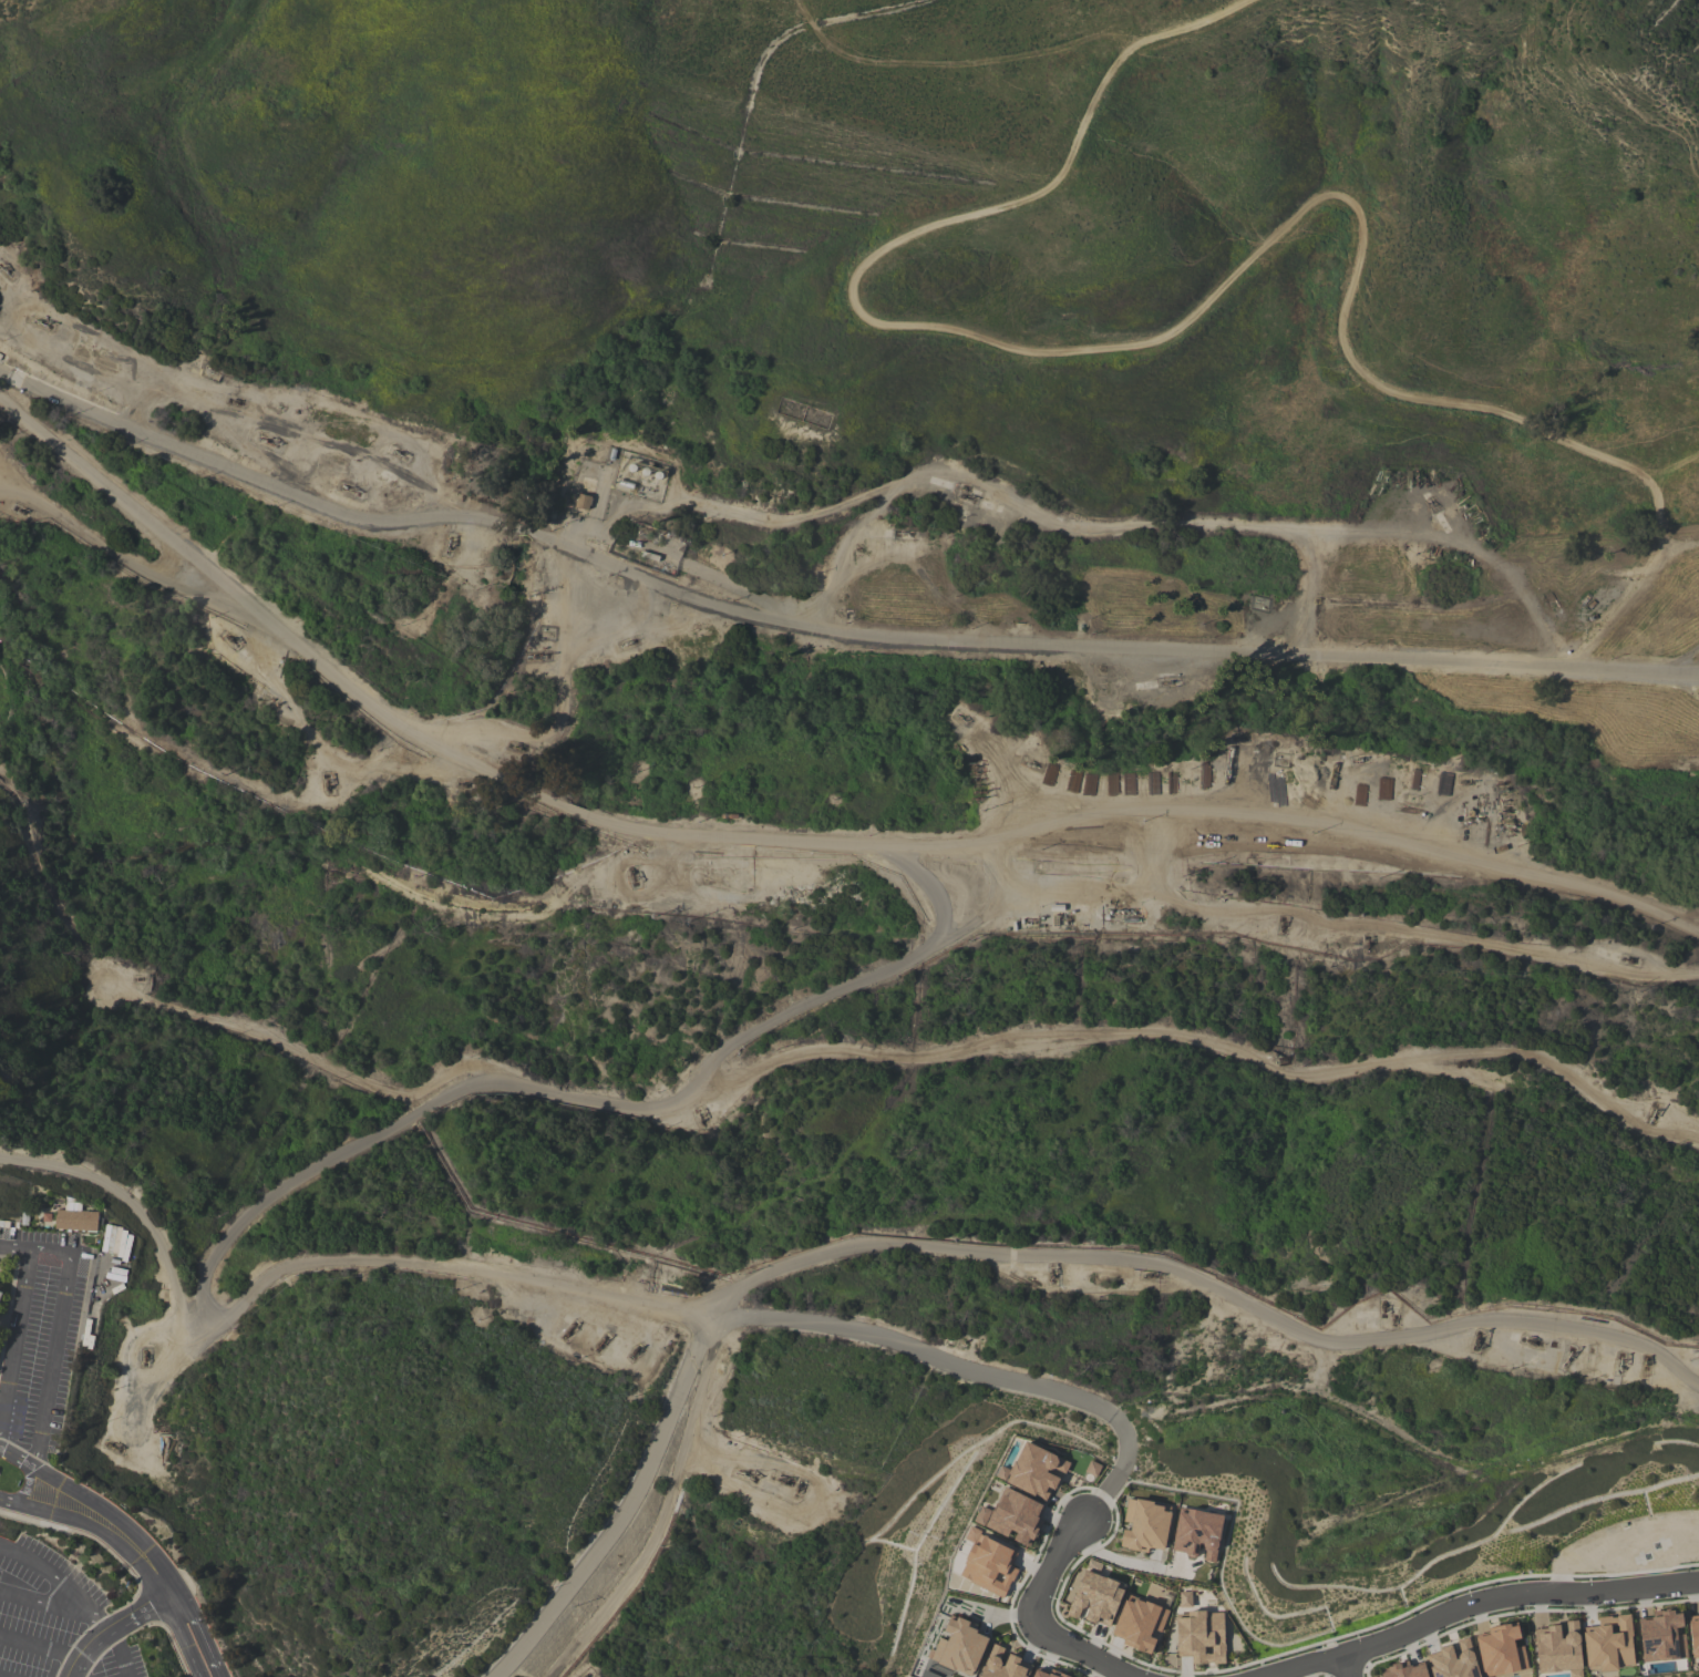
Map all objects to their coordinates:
petroleum well: (2, 266)
petroleum well: (42, 315)
road: (1194, 322)
petroleum well: (236, 399)
petroleum well: (268, 438)
petroleum well: (397, 451)
petroleum well: (350, 488)
petroleum well: (965, 496)
petroleum well: (1432, 501)
building: (583, 502)
road: (1020, 504)
road: (735, 513)
road: (1409, 535)
petroleum well: (446, 543)
road: (1675, 548)
road: (144, 574)
road: (269, 628)
road: (824, 630)
petroleum well: (231, 638)
petroleum well: (629, 642)
petroleum well: (540, 654)
road: (1683, 659)
petroleum well: (1168, 682)
road: (560, 713)
petroleum well: (961, 718)
petroleum well: (1359, 758)
petroleum well: (1032, 762)
petroleum well: (1465, 780)
petroleum well: (463, 783)
petroleum well: (329, 784)
road: (1147, 812)
road: (576, 817)
petroleum well: (631, 872)
road: (937, 891)
petroleum well: (1281, 926)
petroleum well: (1367, 940)
petroleum well: (1628, 958)
road: (1208, 1046)
road: (604, 1097)
petroleum well: (1652, 1111)
road: (132, 1204)
building: (78, 1217)
road: (7, 1244)
road: (21, 1246)
road: (85, 1266)
petroleum well: (1051, 1274)
petroleum well: (1153, 1275)
road: (101, 1278)
road: (1203, 1282)
road: (65, 1283)
building: (0, 1293)
road: (584, 1297)
petroleum well: (1382, 1303)
petroleum well: (569, 1327)
parking lot: (43, 1334)
petroleum well: (1475, 1337)
petroleum well: (1530, 1340)
petroleum well: (600, 1341)
road: (14, 1345)
petroleum well: (634, 1349)
petroleum well: (1566, 1355)
petroleum well: (143, 1357)
petroleum well: (1620, 1360)
petroleum well: (1646, 1362)
road: (43, 1411)
petroleum well: (111, 1444)
road: (1418, 1451)
road: (14, 1458)
road: (1120, 1470)
building: (1033, 1471)
petroleum well: (746, 1472)
petroleum well: (775, 1480)
road: (28, 1488)
road: (19, 1503)
road: (625, 1511)
road: (95, 1513)
road: (665, 1513)
building: (1012, 1516)
road: (1341, 1523)
building: (1144, 1525)
building: (1196, 1534)
road: (1129, 1562)
building: (988, 1563)
road: (56, 1583)
road: (169, 1592)
road: (1516, 1592)
building: (1095, 1598)
road: (42, 1599)
building: (1184, 1599)
parking lot: (55, 1619)
road: (1037, 1623)
building: (1140, 1624)
road: (112, 1627)
building: (1693, 1635)
building: (1201, 1637)
building: (1661, 1637)
building: (1609, 1644)
road: (40, 1647)
building: (958, 1647)
building: (1558, 1648)
building: (1501, 1652)
road: (116, 1653)
building: (1453, 1660)
building: (1002, 1664)
road: (1349, 1666)
road: (1309, 1667)
building: (1404, 1670)
road: (75, 1673)
building: (1042, 1674)

